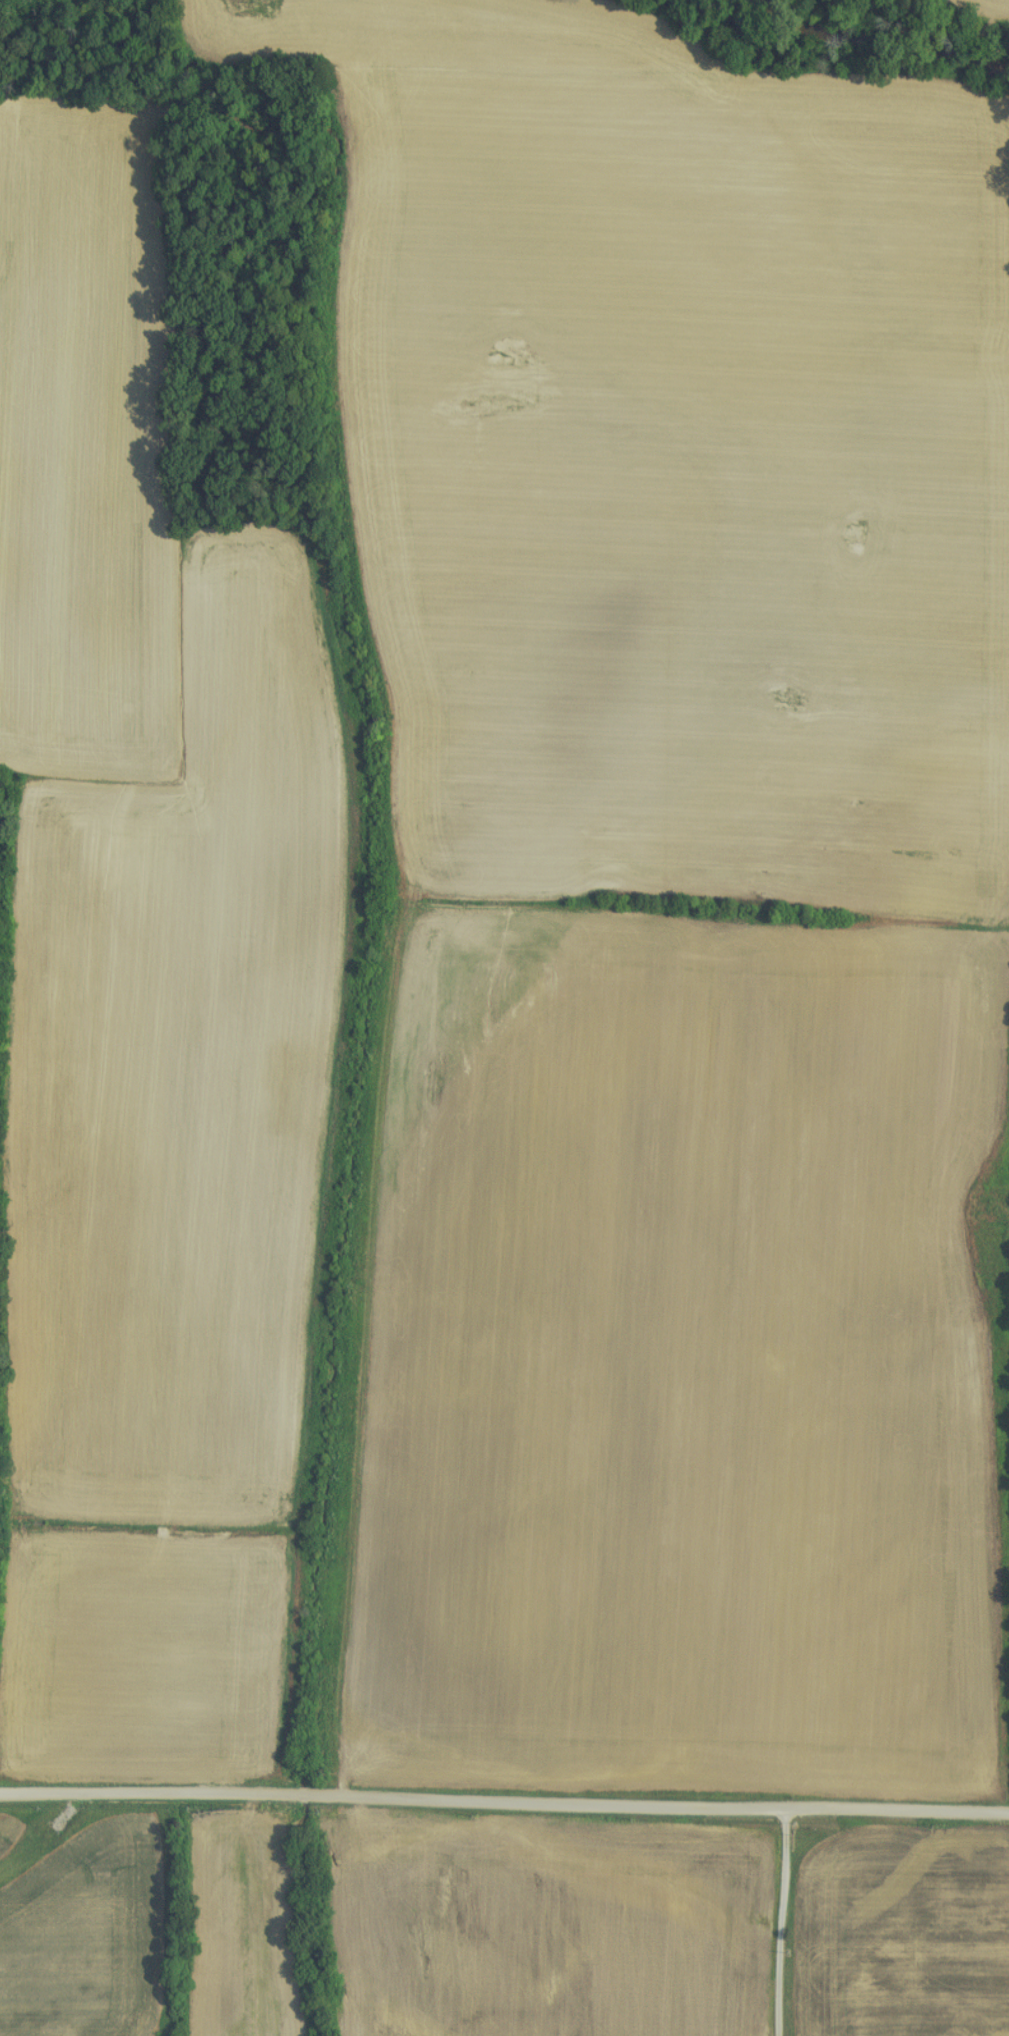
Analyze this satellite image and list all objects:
road: (504, 1801)
road: (781, 1921)

